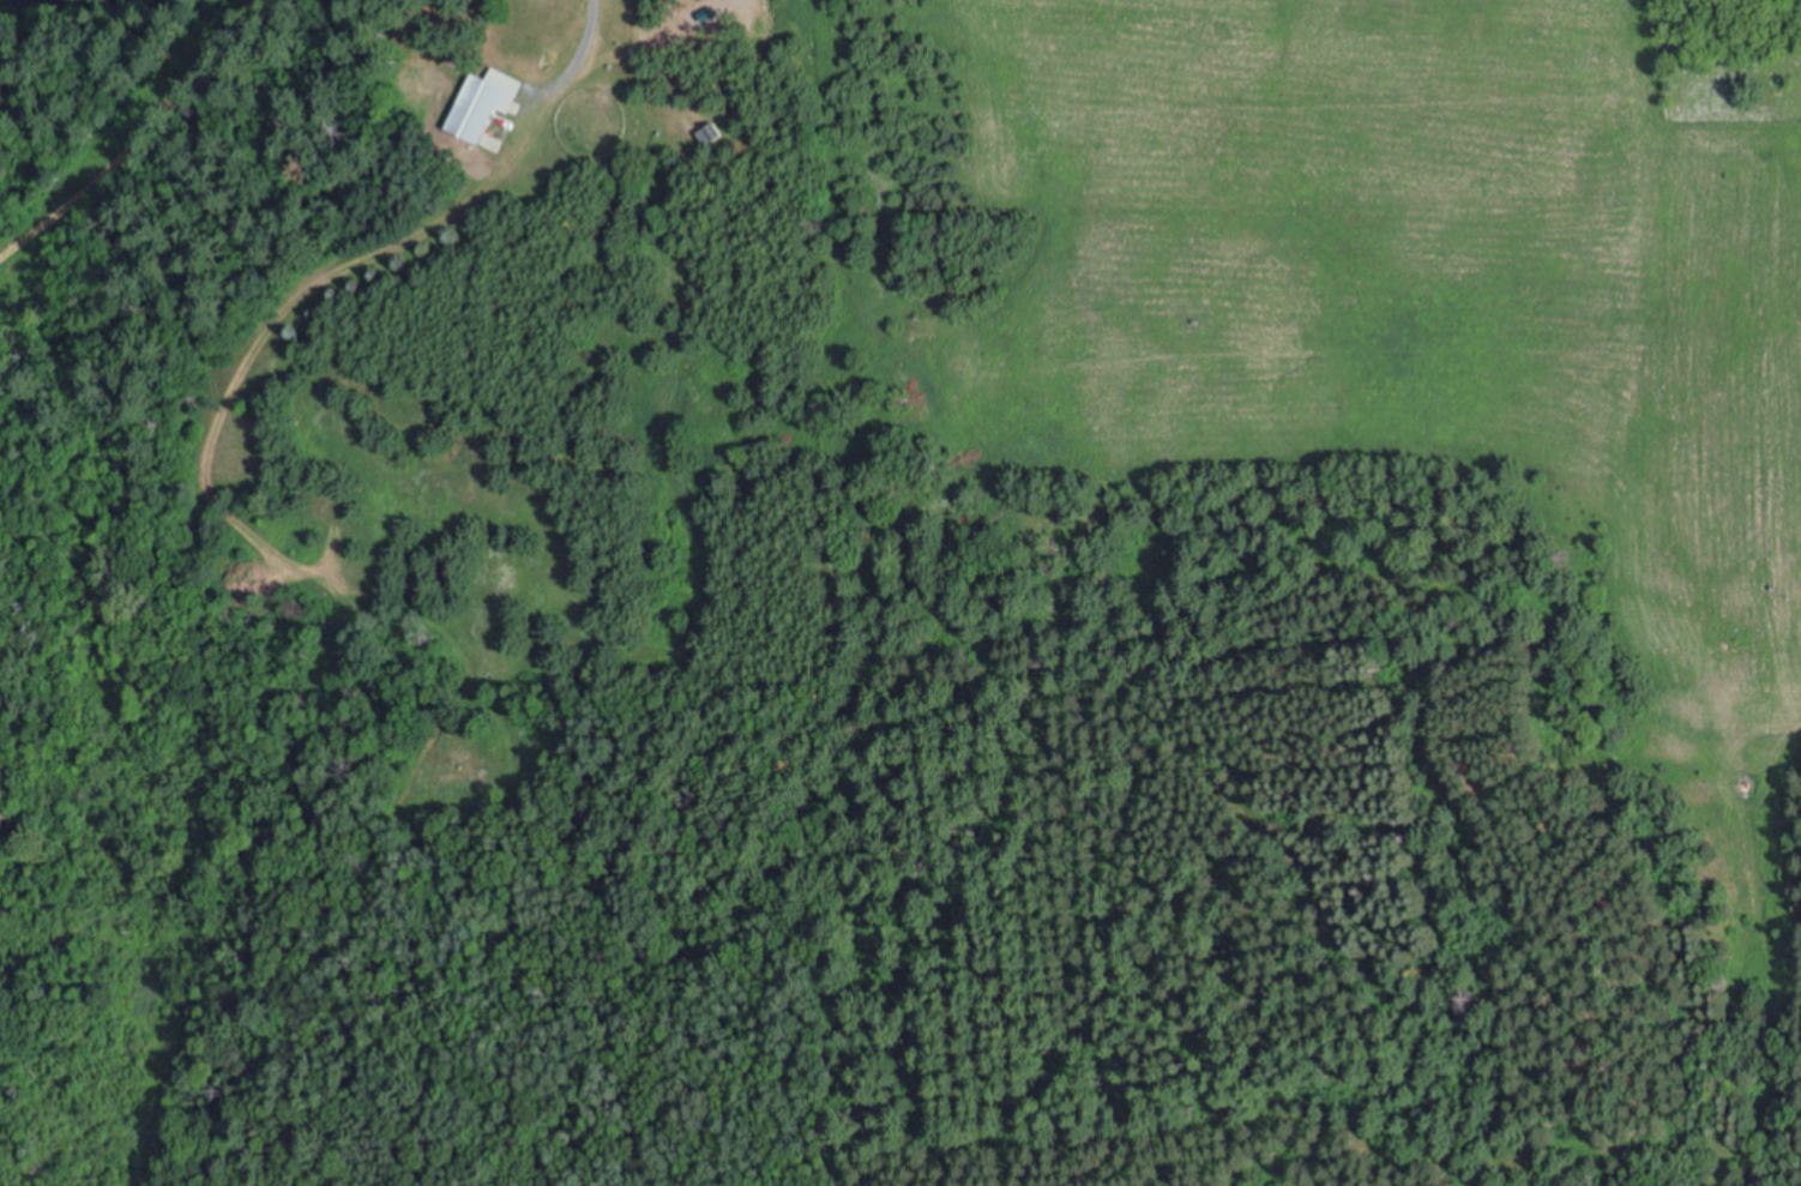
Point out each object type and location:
building: (478, 107)
road: (189, 145)

